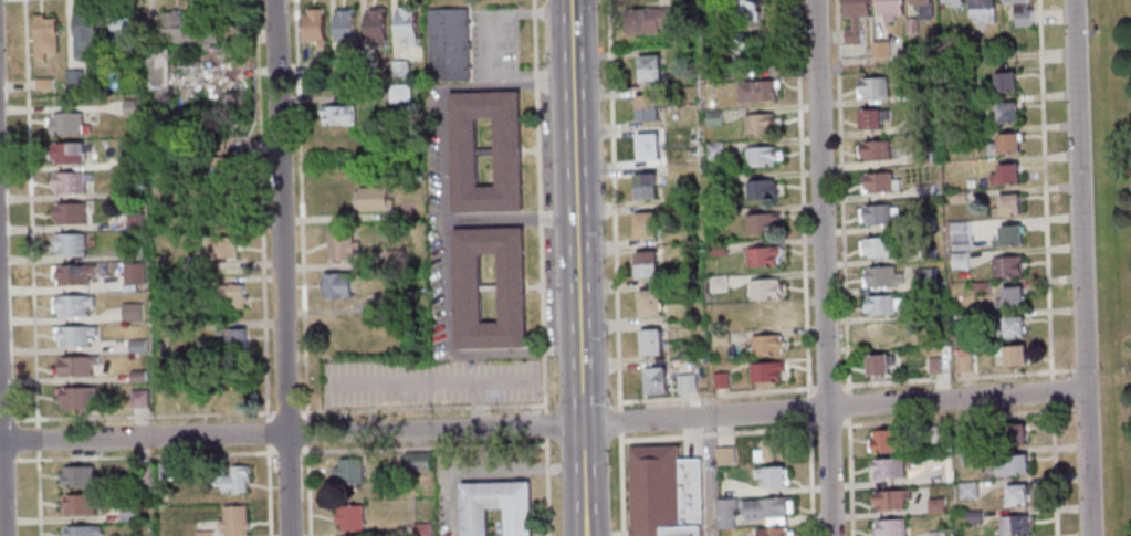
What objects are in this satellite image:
road: (174, 2)
building: (952, 3)
road: (38, 6)
road: (77, 6)
road: (117, 6)
building: (887, 9)
building: (921, 9)
road: (73, 10)
road: (148, 10)
building: (747, 10)
road: (105, 11)
building: (980, 12)
building: (1018, 12)
road: (496, 13)
building: (852, 19)
building: (646, 21)
building: (404, 25)
building: (373, 27)
building: (909, 27)
building: (313, 28)
building: (343, 28)
building: (171, 29)
road: (69, 33)
building: (82, 34)
building: (121, 34)
building: (42, 38)
road: (27, 41)
building: (447, 45)
building: (739, 46)
building: (879, 50)
road: (28, 54)
building: (398, 70)
building: (648, 70)
building: (157, 71)
road: (224, 73)
road: (532, 78)
building: (74, 80)
building: (1003, 84)
building: (43, 85)
road: (15, 86)
building: (871, 88)
building: (755, 92)
building: (397, 93)
building: (918, 95)
building: (129, 107)
road: (60, 108)
building: (645, 108)
building: (1004, 114)
building: (336, 115)
building: (712, 118)
building: (870, 119)
road: (34, 120)
building: (64, 124)
building: (758, 125)
building: (959, 138)
building: (212, 146)
building: (1002, 146)
building: (646, 147)
road: (254, 149)
building: (713, 151)
building: (873, 151)
building: (505, 153)
road: (35, 154)
building: (64, 154)
building: (921, 156)
building: (760, 157)
building: (126, 159)
building: (219, 166)
road: (248, 166)
road: (57, 167)
building: (1003, 176)
building: (69, 182)
building: (714, 182)
road: (36, 183)
building: (878, 183)
building: (643, 187)
building: (758, 190)
building: (130, 191)
building: (923, 191)
road: (441, 195)
road: (60, 196)
building: (956, 197)
building: (370, 200)
road: (612, 204)
building: (1005, 206)
road: (536, 207)
road: (299, 210)
road: (260, 211)
road: (575, 211)
road: (28, 213)
building: (67, 213)
building: (714, 214)
building: (877, 214)
road: (39, 216)
building: (134, 222)
building: (760, 223)
road: (62, 227)
building: (643, 227)
building: (959, 235)
building: (1006, 238)
building: (67, 244)
building: (338, 244)
road: (39, 246)
building: (218, 248)
building: (878, 248)
road: (251, 249)
building: (716, 250)
building: (130, 251)
building: (925, 255)
building: (761, 258)
road: (60, 259)
building: (392, 259)
building: (957, 261)
road: (252, 265)
building: (645, 265)
road: (281, 267)
road: (805, 267)
road: (823, 267)
road: (844, 267)
building: (1005, 267)
road: (1047, 267)
road: (1080, 267)
road: (39, 274)
building: (70, 275)
building: (133, 276)
building: (881, 277)
building: (925, 277)
road: (258, 280)
building: (186, 282)
building: (718, 284)
building: (335, 286)
road: (61, 290)
building: (510, 290)
building: (763, 290)
building: (981, 290)
building: (224, 294)
road: (256, 299)
building: (1008, 299)
building: (648, 304)
building: (71, 306)
building: (370, 306)
building: (881, 306)
road: (40, 307)
building: (130, 313)
building: (769, 316)
road: (60, 320)
road: (242, 324)
building: (1009, 329)
building: (881, 334)
road: (41, 335)
building: (72, 336)
building: (231, 338)
road: (255, 338)
building: (719, 339)
building: (649, 344)
building: (135, 346)
building: (763, 346)
road: (63, 350)
road: (444, 355)
building: (1010, 356)
building: (962, 361)
building: (75, 366)
building: (877, 366)
building: (932, 366)
road: (42, 369)
building: (764, 374)
building: (135, 377)
road: (63, 380)
building: (719, 381)
building: (653, 382)
parking lot: (429, 383)
road: (429, 383)
building: (684, 385)
road: (716, 393)
building: (78, 399)
building: (138, 399)
road: (475, 406)
road: (419, 409)
road: (284, 413)
road: (136, 417)
road: (617, 422)
road: (138, 423)
road: (543, 424)
road: (542, 427)
road: (304, 431)
road: (713, 432)
building: (962, 432)
road: (265, 433)
building: (1014, 433)
building: (935, 434)
road: (34, 439)
building: (887, 442)
road: (420, 448)
road: (285, 452)
building: (768, 452)
road: (142, 455)
building: (723, 456)
building: (967, 458)
road: (6, 460)
building: (413, 461)
building: (1010, 466)
building: (886, 469)
road: (483, 470)
building: (165, 471)
building: (347, 472)
building: (140, 474)
building: (76, 476)
road: (1, 477)
building: (769, 477)
building: (233, 480)
road: (583, 480)
road: (618, 484)
road: (545, 486)
road: (305, 490)
road: (266, 491)
building: (966, 491)
road: (35, 493)
building: (663, 493)
building: (1015, 497)
building: (888, 501)
building: (80, 504)
building: (495, 506)
building: (934, 506)
building: (764, 509)
building: (126, 513)
building: (724, 513)
building: (972, 517)
building: (347, 518)
building: (232, 521)
building: (1012, 526)
building: (889, 528)
building: (419, 529)
building: (81, 530)
building: (202, 533)
building: (771, 533)
building: (934, 534)

